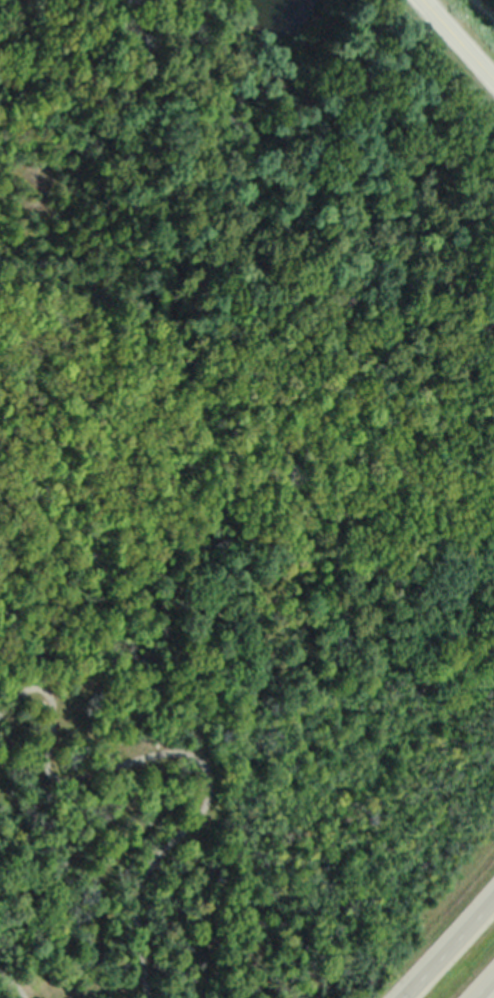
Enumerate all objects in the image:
road: (457, 41)
road: (449, 947)
road: (485, 989)

